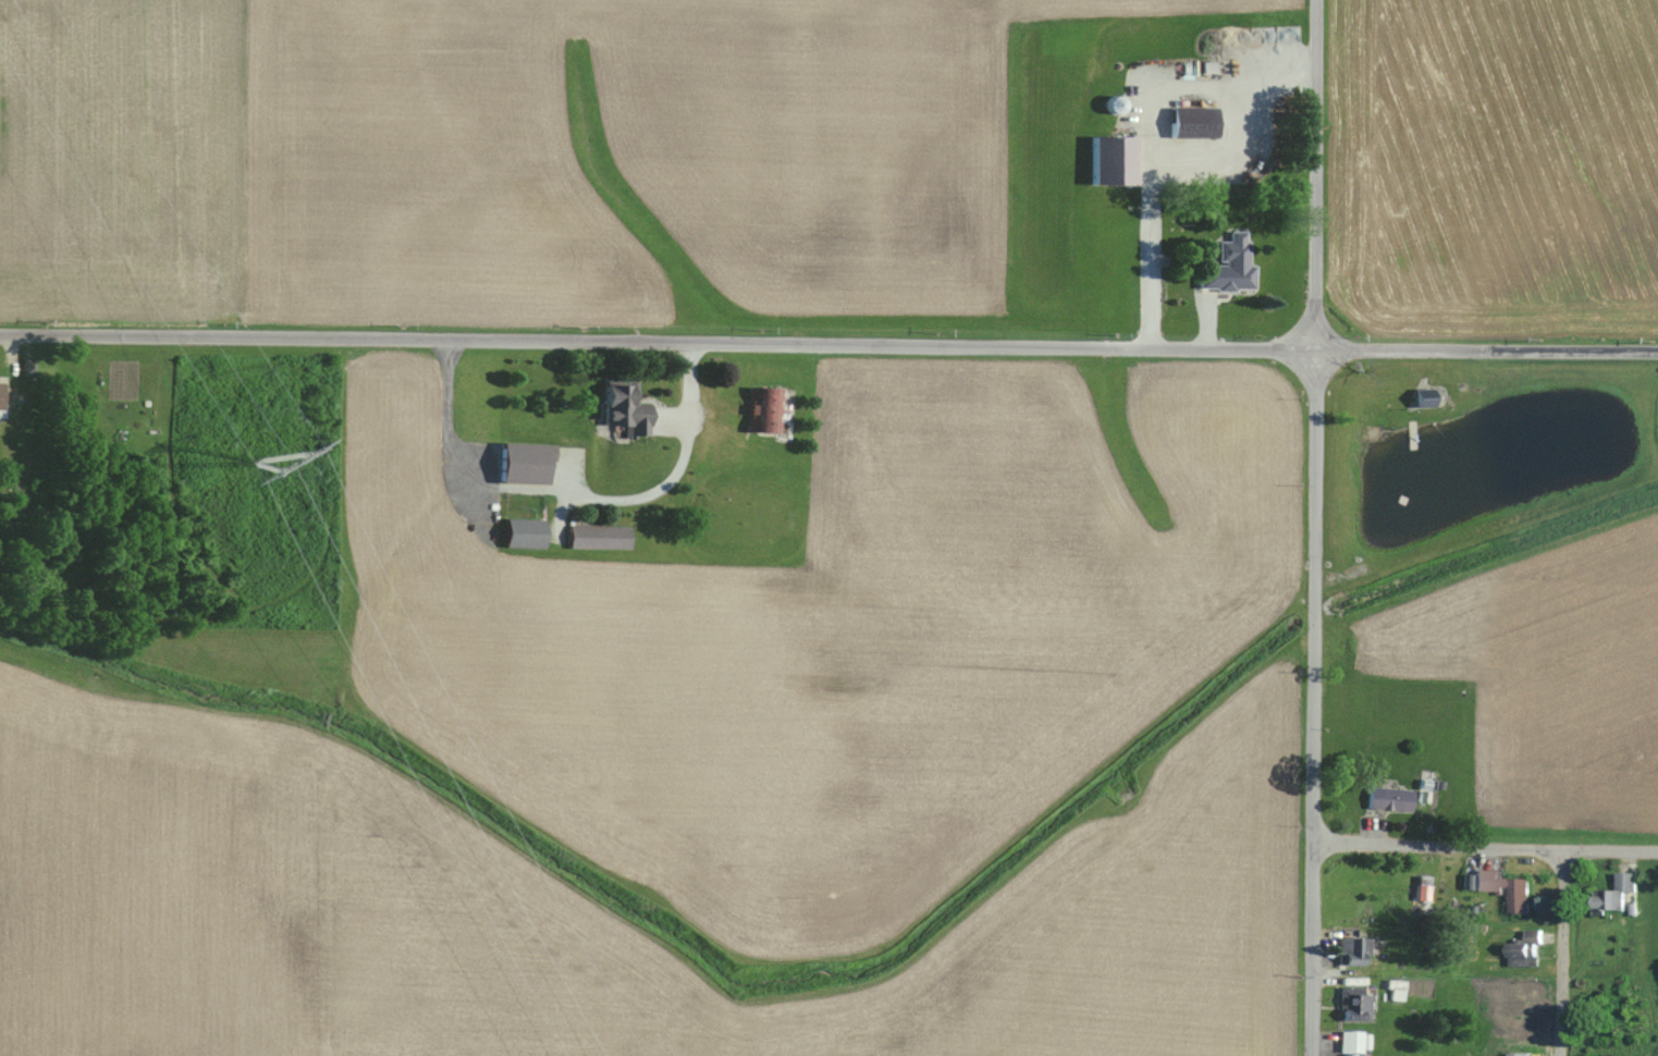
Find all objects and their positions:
building: (1198, 123)
building: (1232, 265)
road: (828, 344)
building: (2, 391)
building: (773, 409)
building: (629, 410)
building: (529, 457)
power tower: (256, 462)
road: (678, 467)
road: (1312, 527)
building: (528, 533)
building: (602, 538)
building: (1392, 799)
road: (1486, 846)
building: (1619, 891)
building: (1520, 895)
building: (1525, 948)
building: (1356, 950)
road: (1561, 951)
building: (1527, 997)
building: (1359, 1004)
building: (1354, 1042)
building: (1524, 1054)

